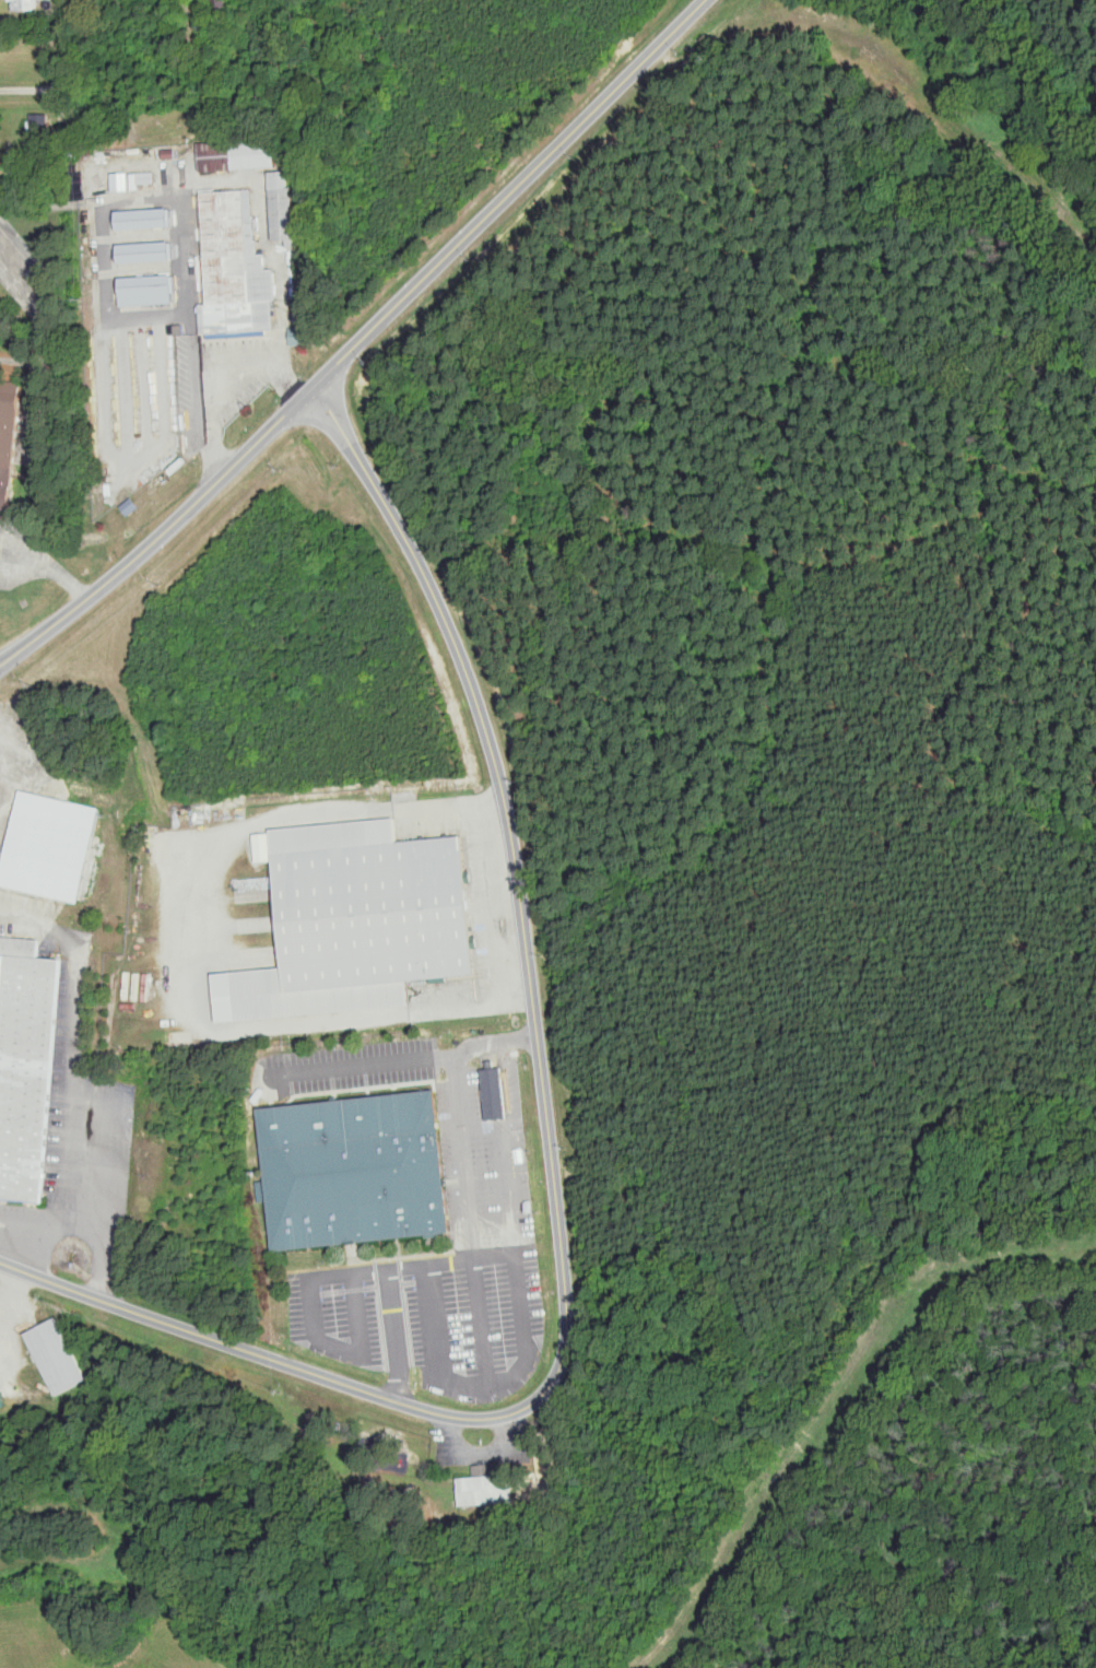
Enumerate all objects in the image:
building: (222, 2)
building: (27, 3)
building: (25, 23)
road: (61, 73)
building: (42, 125)
building: (240, 154)
road: (507, 192)
building: (284, 207)
building: (146, 218)
building: (233, 223)
road: (271, 246)
building: (149, 251)
road: (108, 257)
building: (243, 279)
building: (151, 289)
road: (191, 290)
building: (239, 316)
building: (302, 336)
road: (221, 384)
building: (12, 398)
building: (10, 436)
building: (155, 485)
building: (8, 488)
building: (131, 506)
road: (162, 531)
road: (16, 535)
road: (19, 568)
road: (60, 572)
building: (52, 832)
building: (374, 897)
road: (212, 943)
building: (21, 948)
road: (76, 973)
building: (311, 992)
road: (457, 1054)
road: (364, 1064)
building: (28, 1072)
building: (497, 1095)
road: (74, 1139)
building: (361, 1159)
road: (550, 1159)
road: (113, 1194)
road: (55, 1225)
road: (472, 1237)
road: (519, 1276)
road: (311, 1293)
road: (356, 1315)
road: (396, 1324)
road: (439, 1324)
road: (481, 1325)
building: (60, 1347)
road: (400, 1389)
building: (481, 1484)

